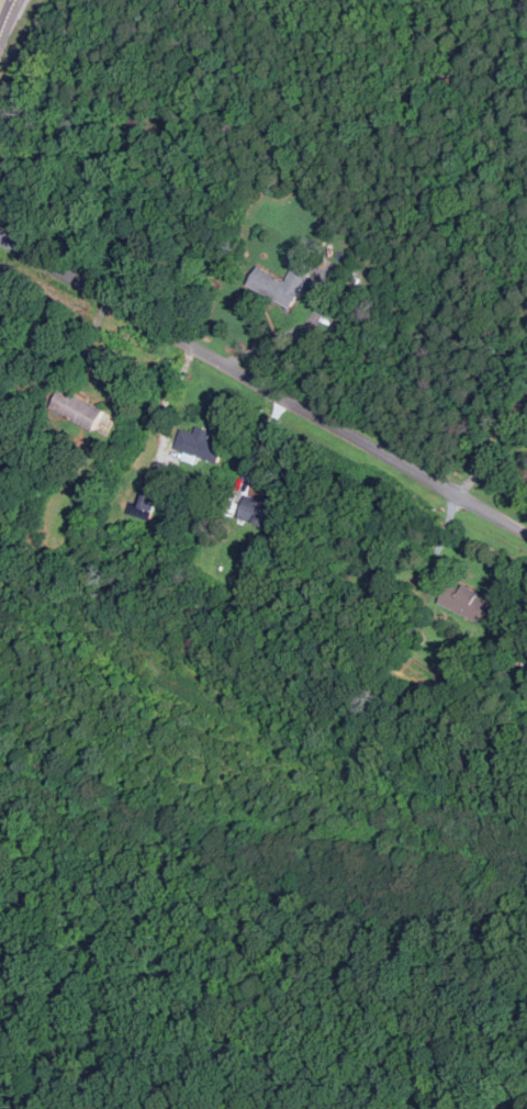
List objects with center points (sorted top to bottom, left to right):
road: (7, 20)
building: (282, 282)
road: (289, 334)
road: (262, 384)
road: (169, 394)
building: (76, 408)
building: (200, 445)
road: (492, 455)
building: (142, 503)
building: (259, 511)
building: (464, 602)

